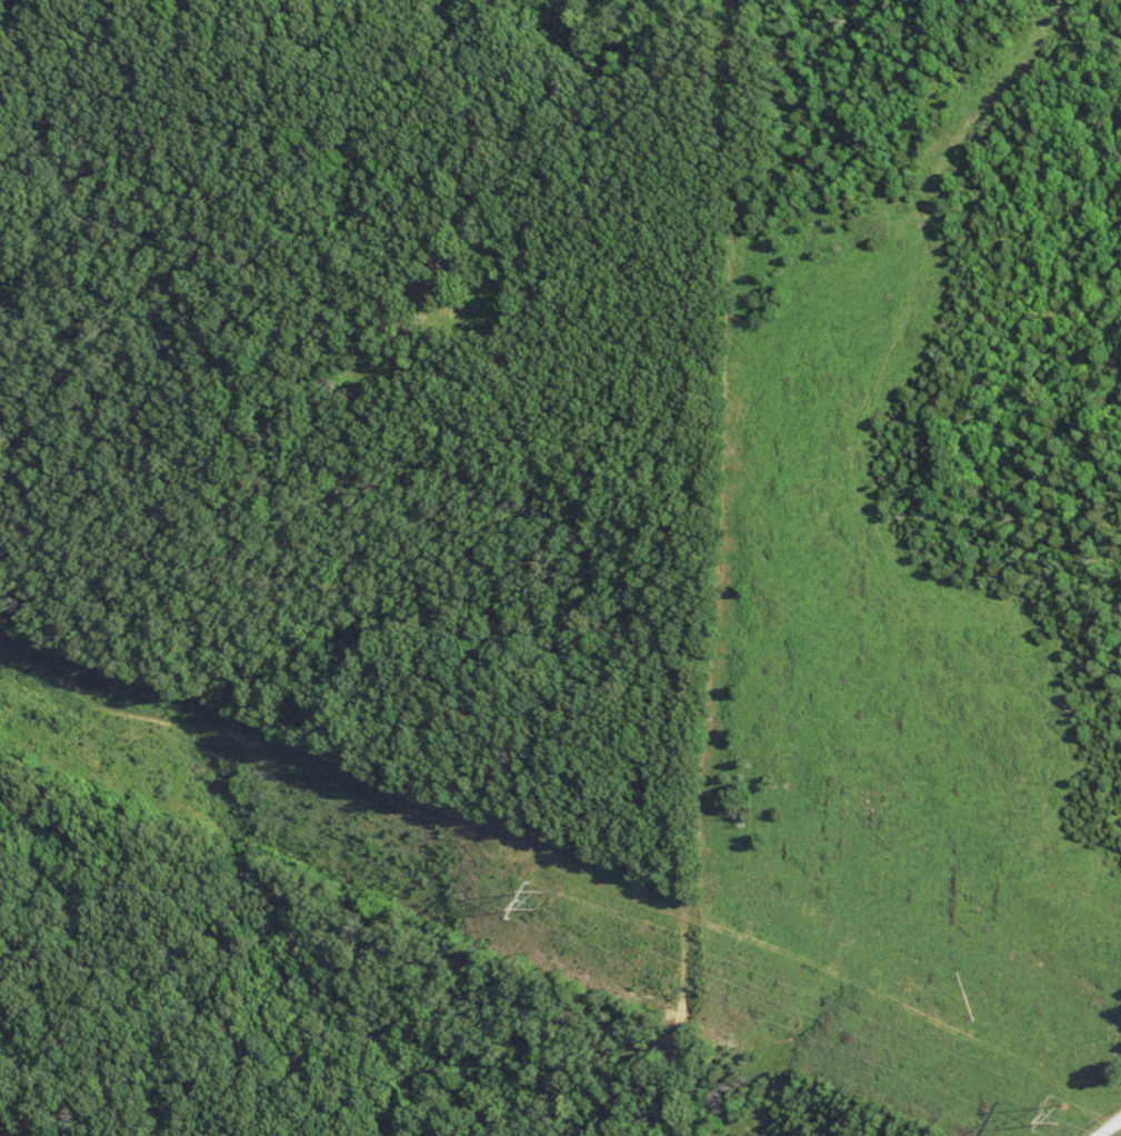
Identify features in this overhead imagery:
power tower: (540, 904)
power tower: (1063, 1117)
road: (1113, 1130)

